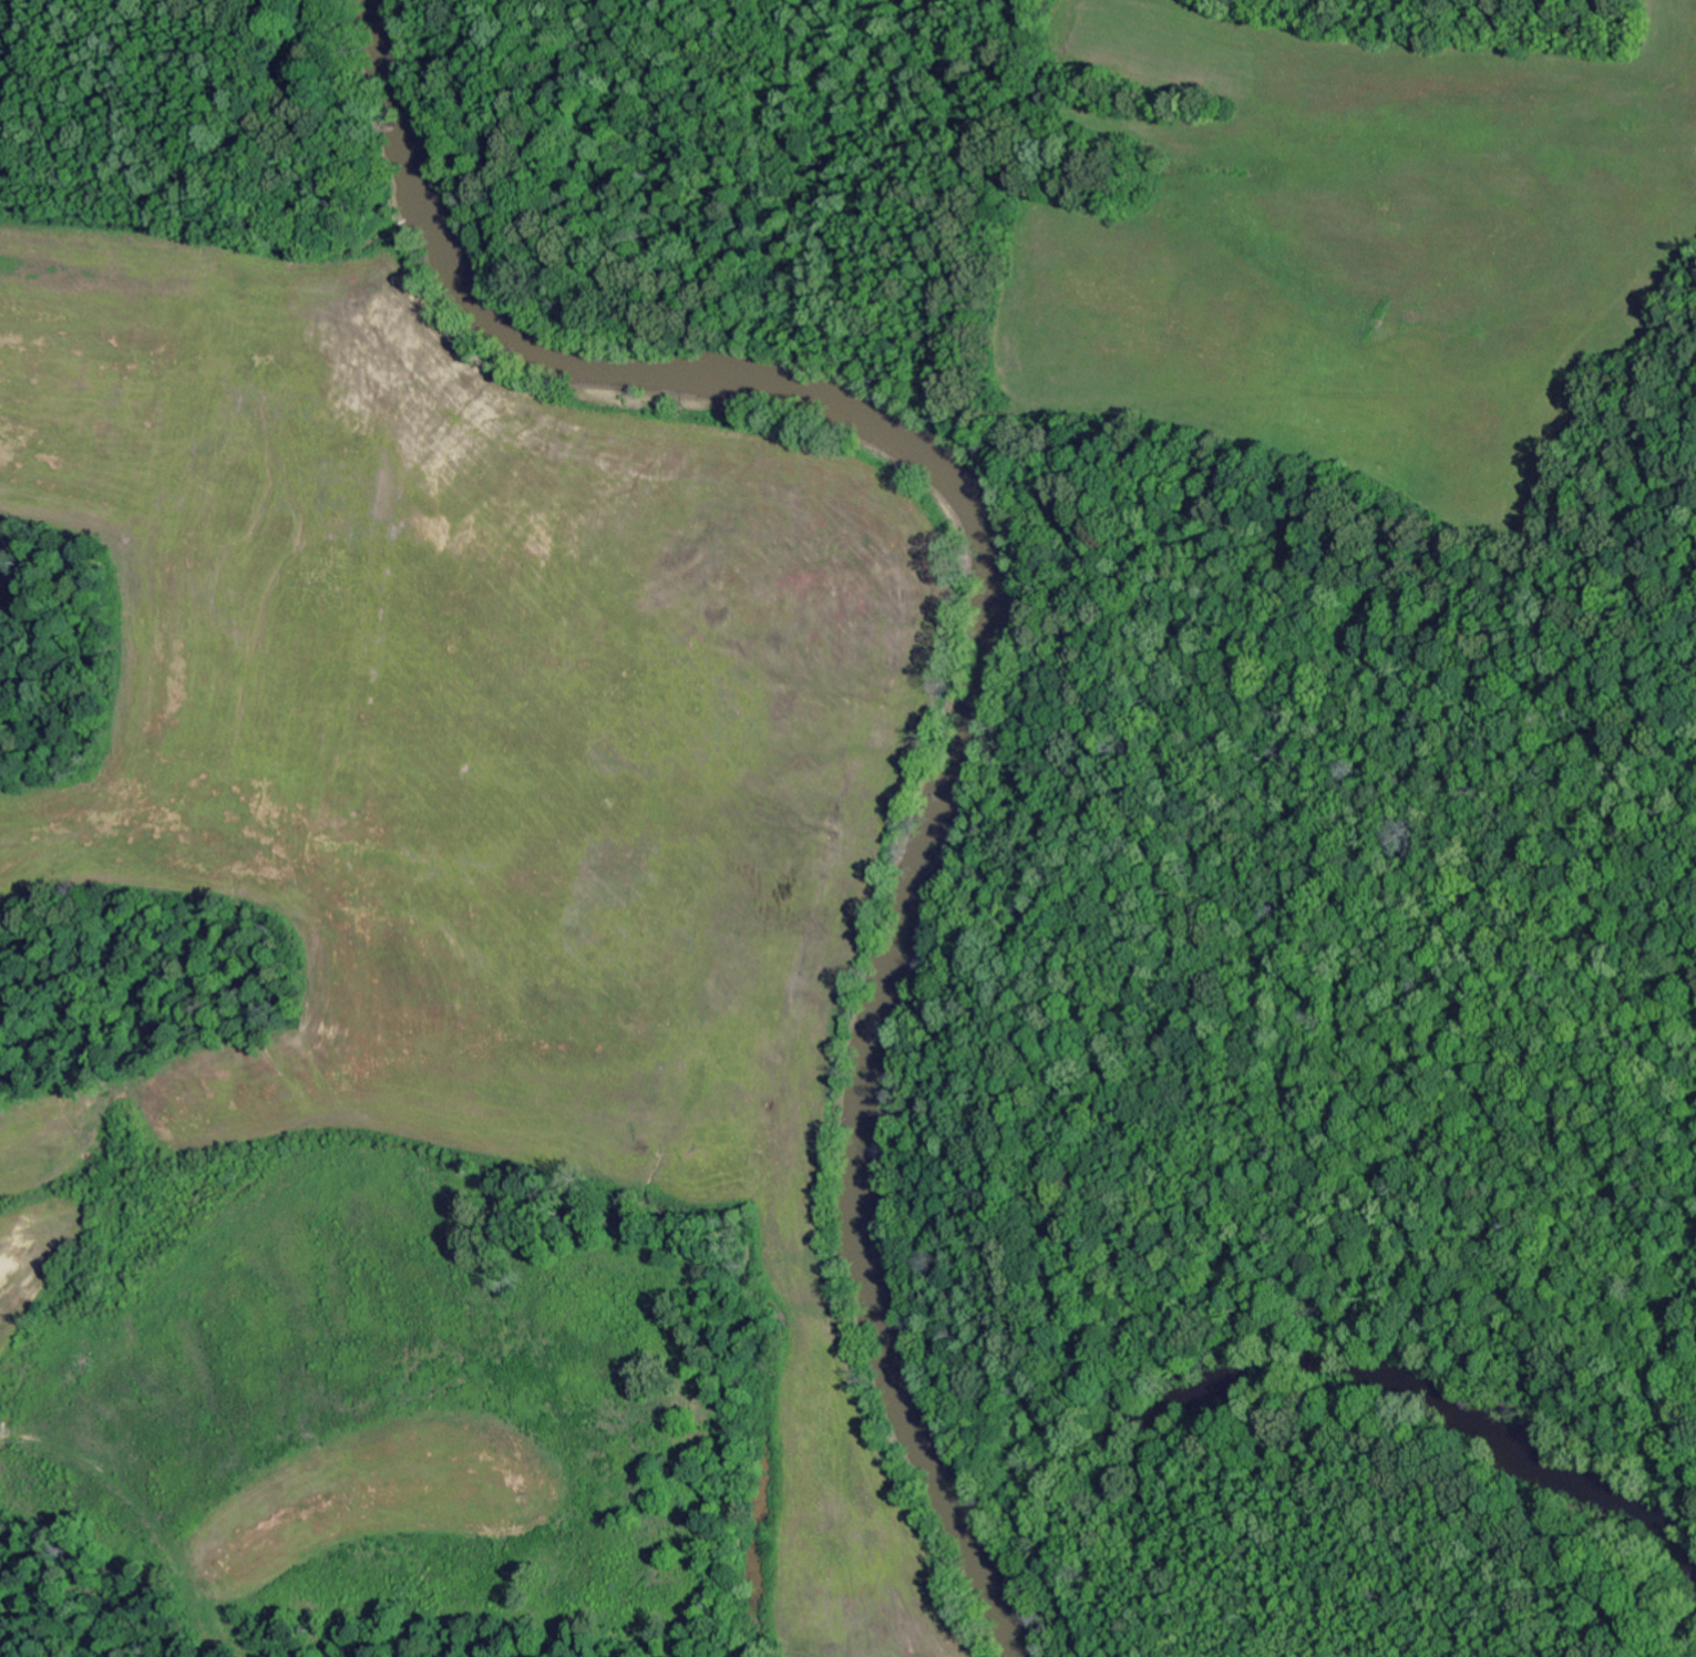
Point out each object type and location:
river: (986, 663)

